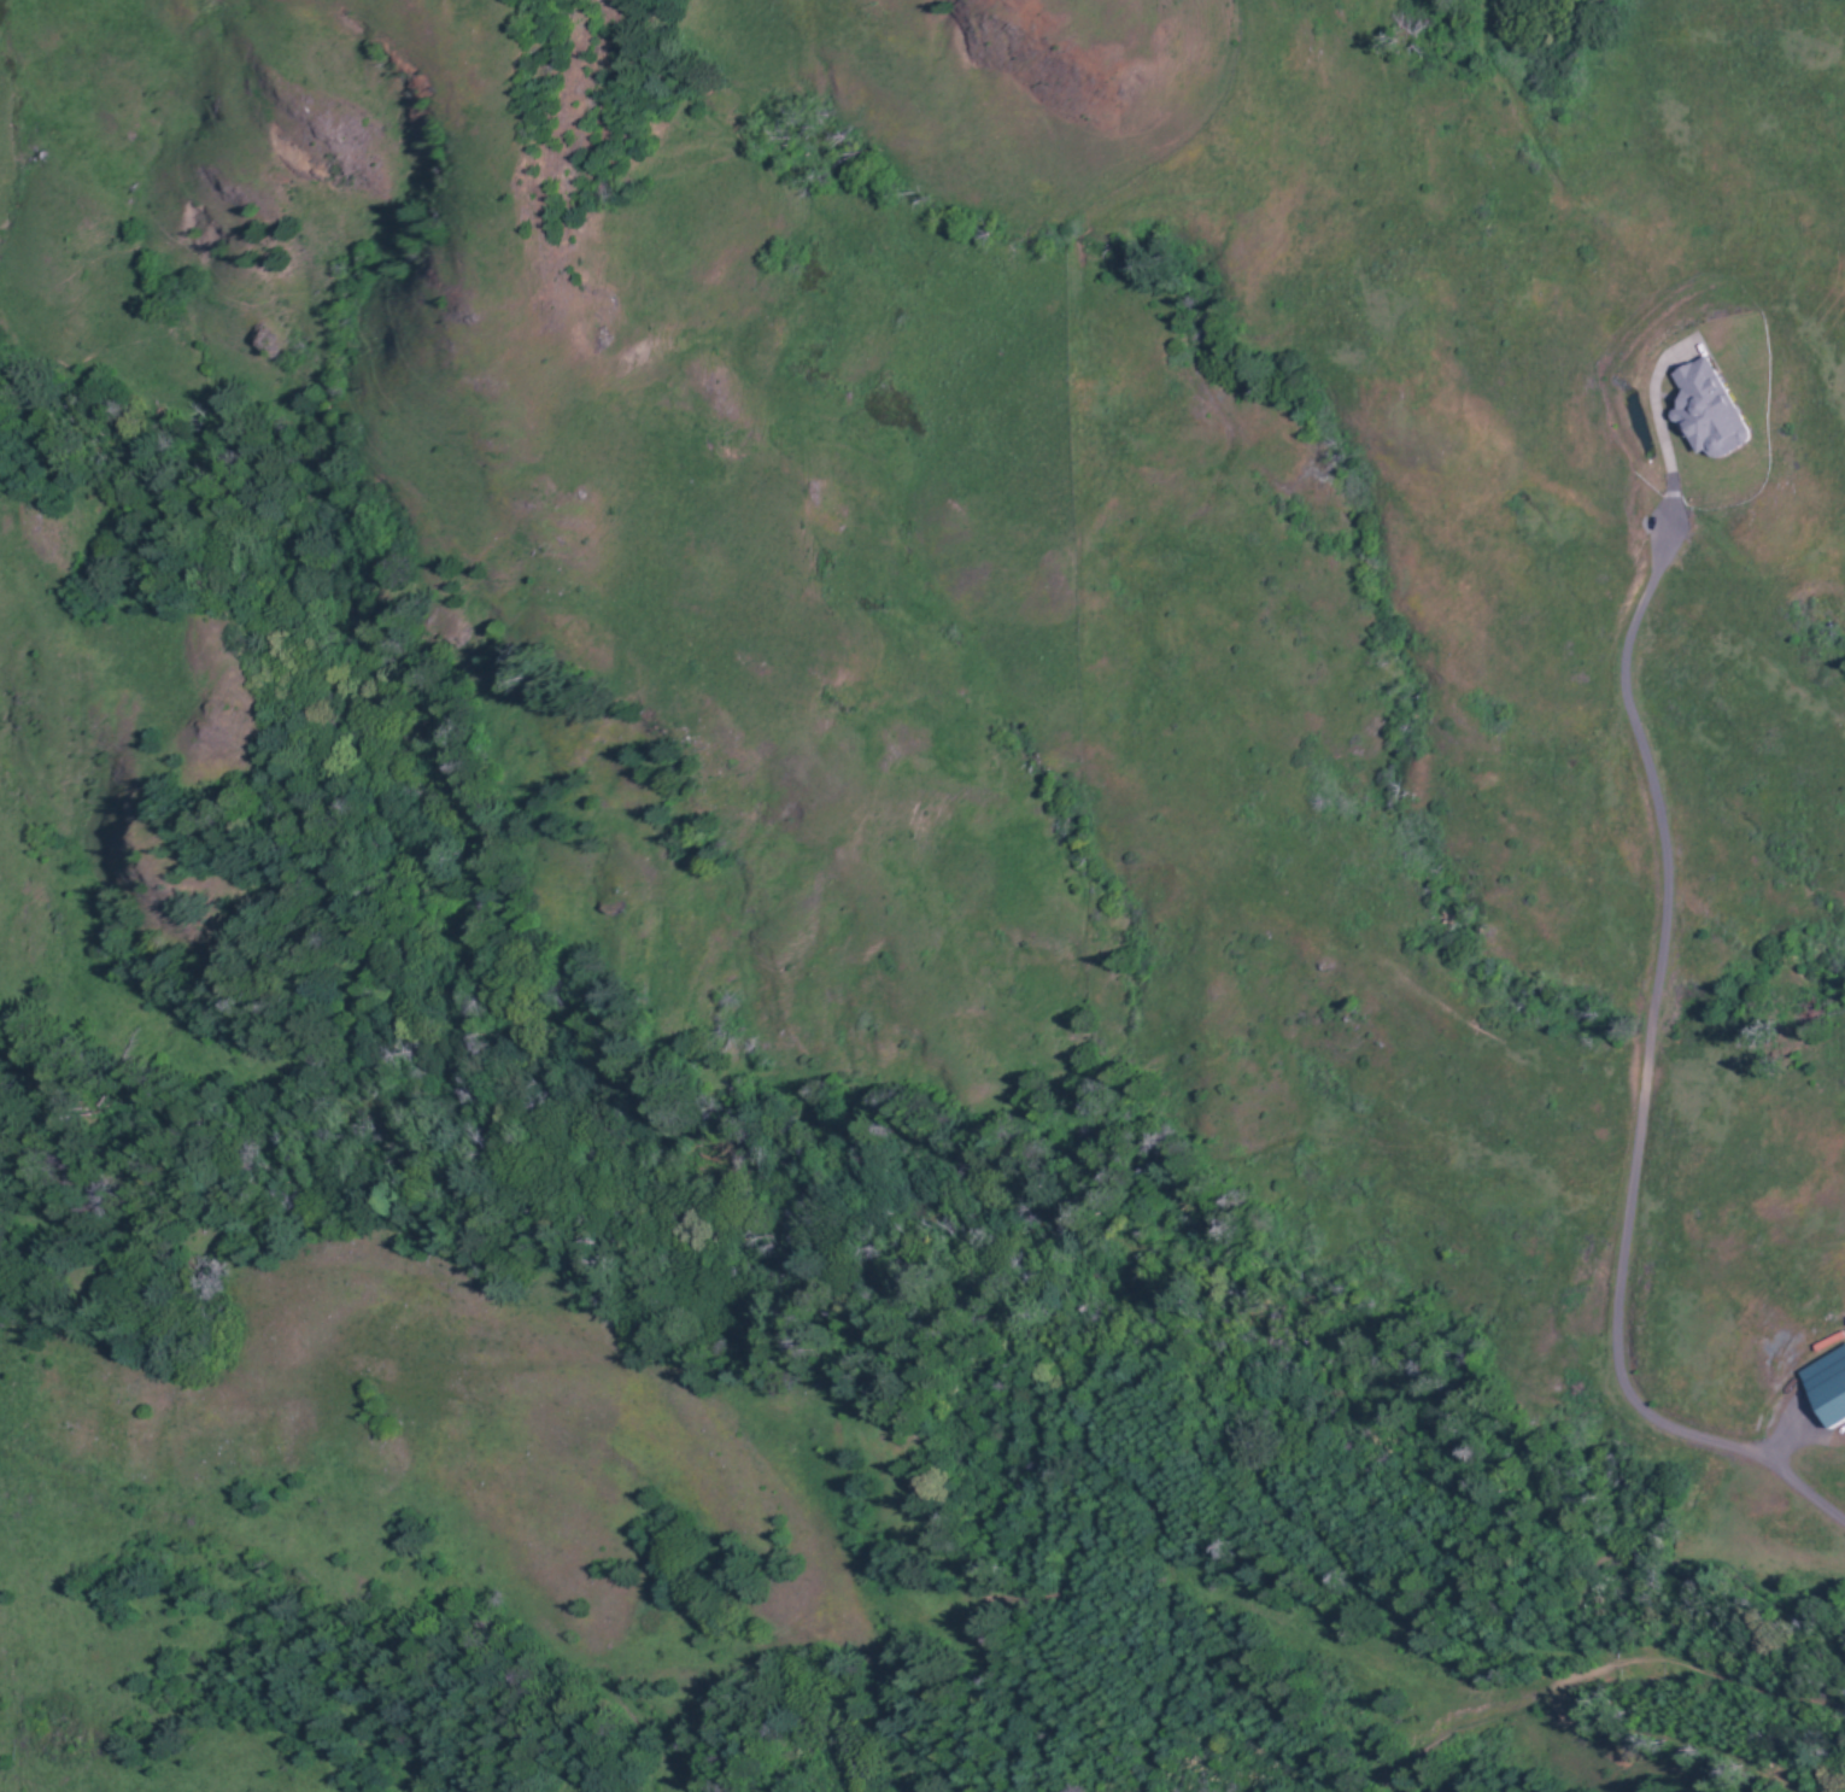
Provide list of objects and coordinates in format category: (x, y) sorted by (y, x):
building: (1704, 410)
building: (1826, 1386)

